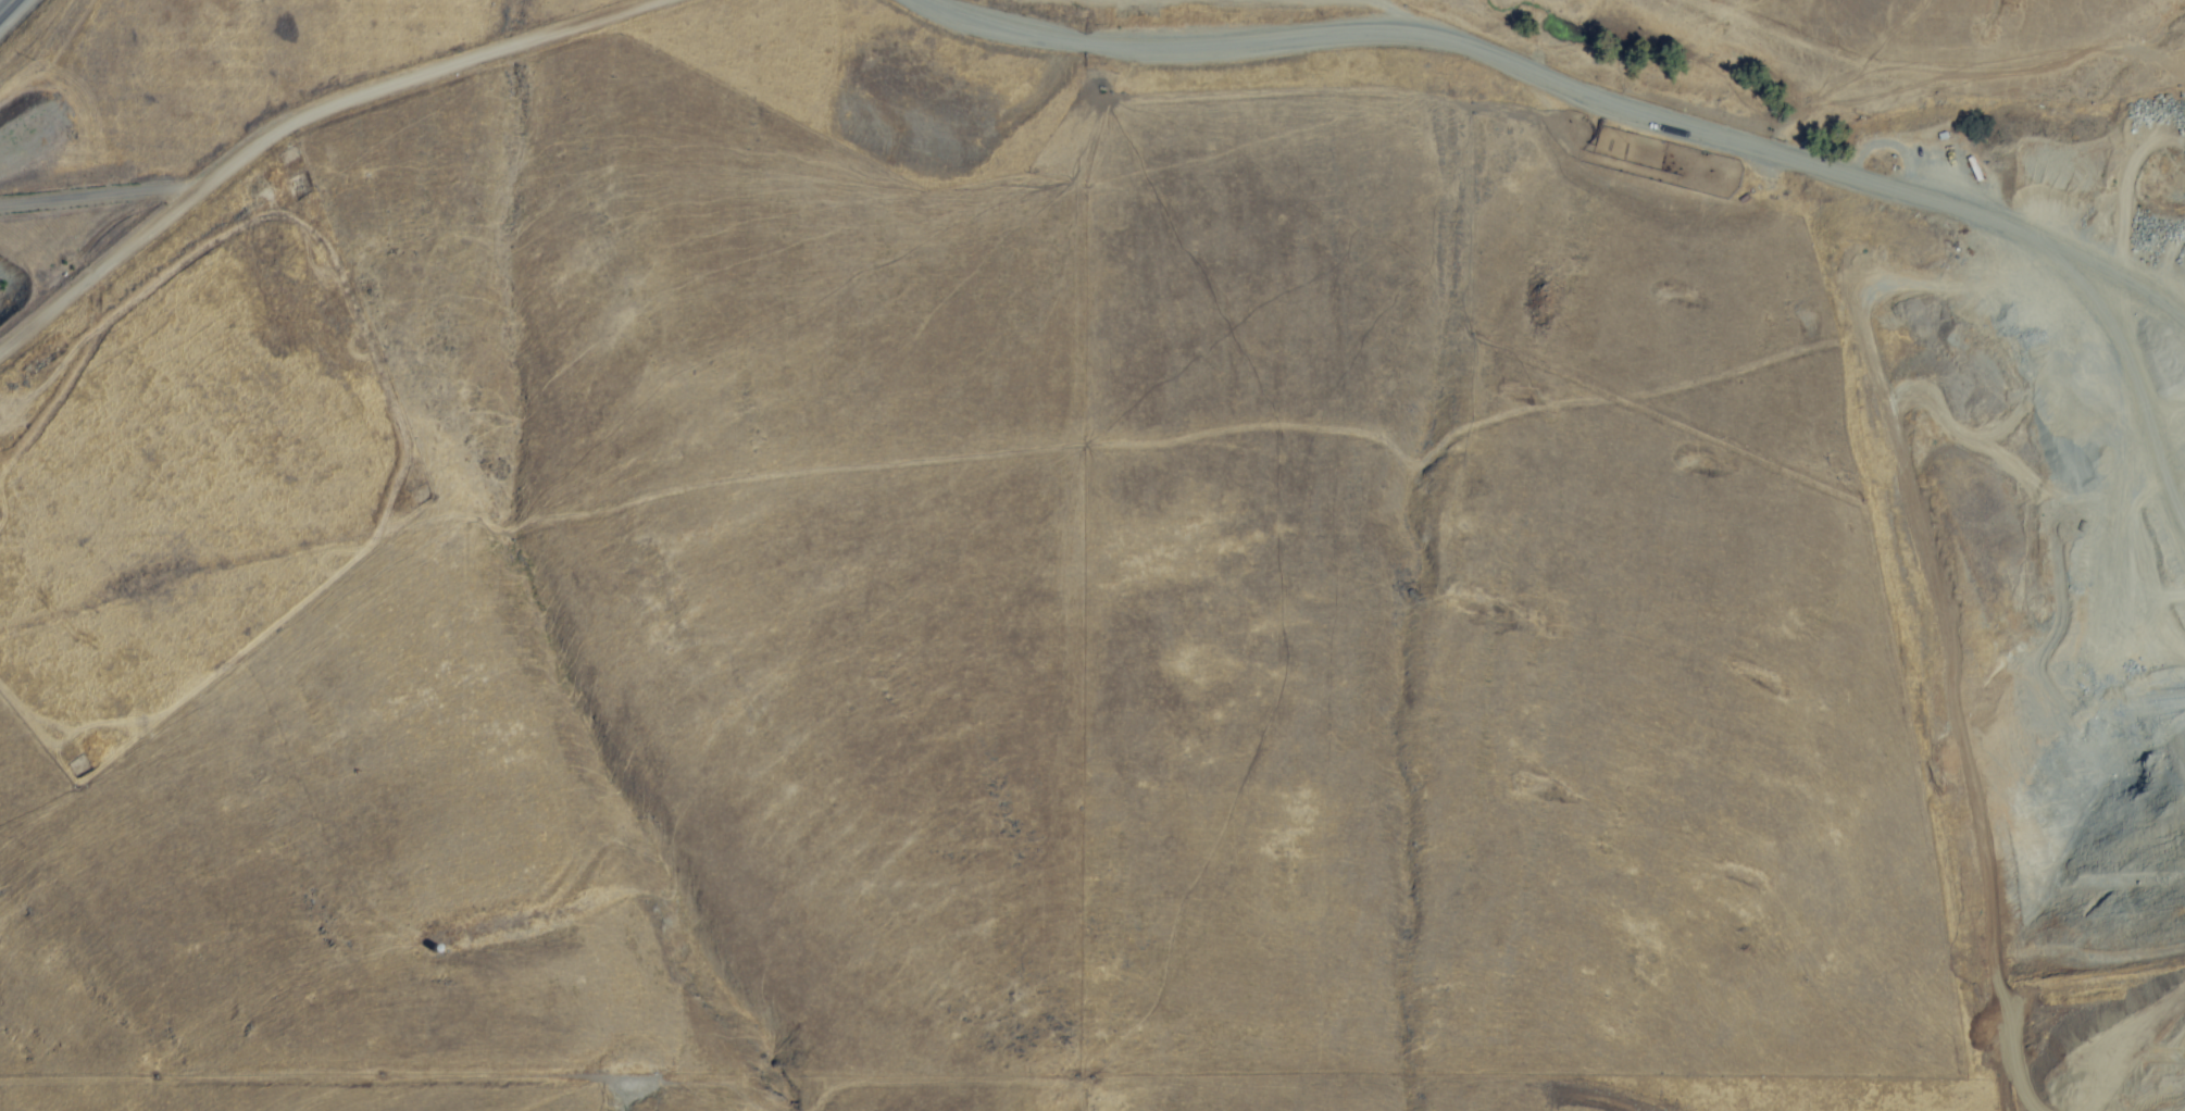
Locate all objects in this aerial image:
road: (7, 5)
road: (315, 124)

